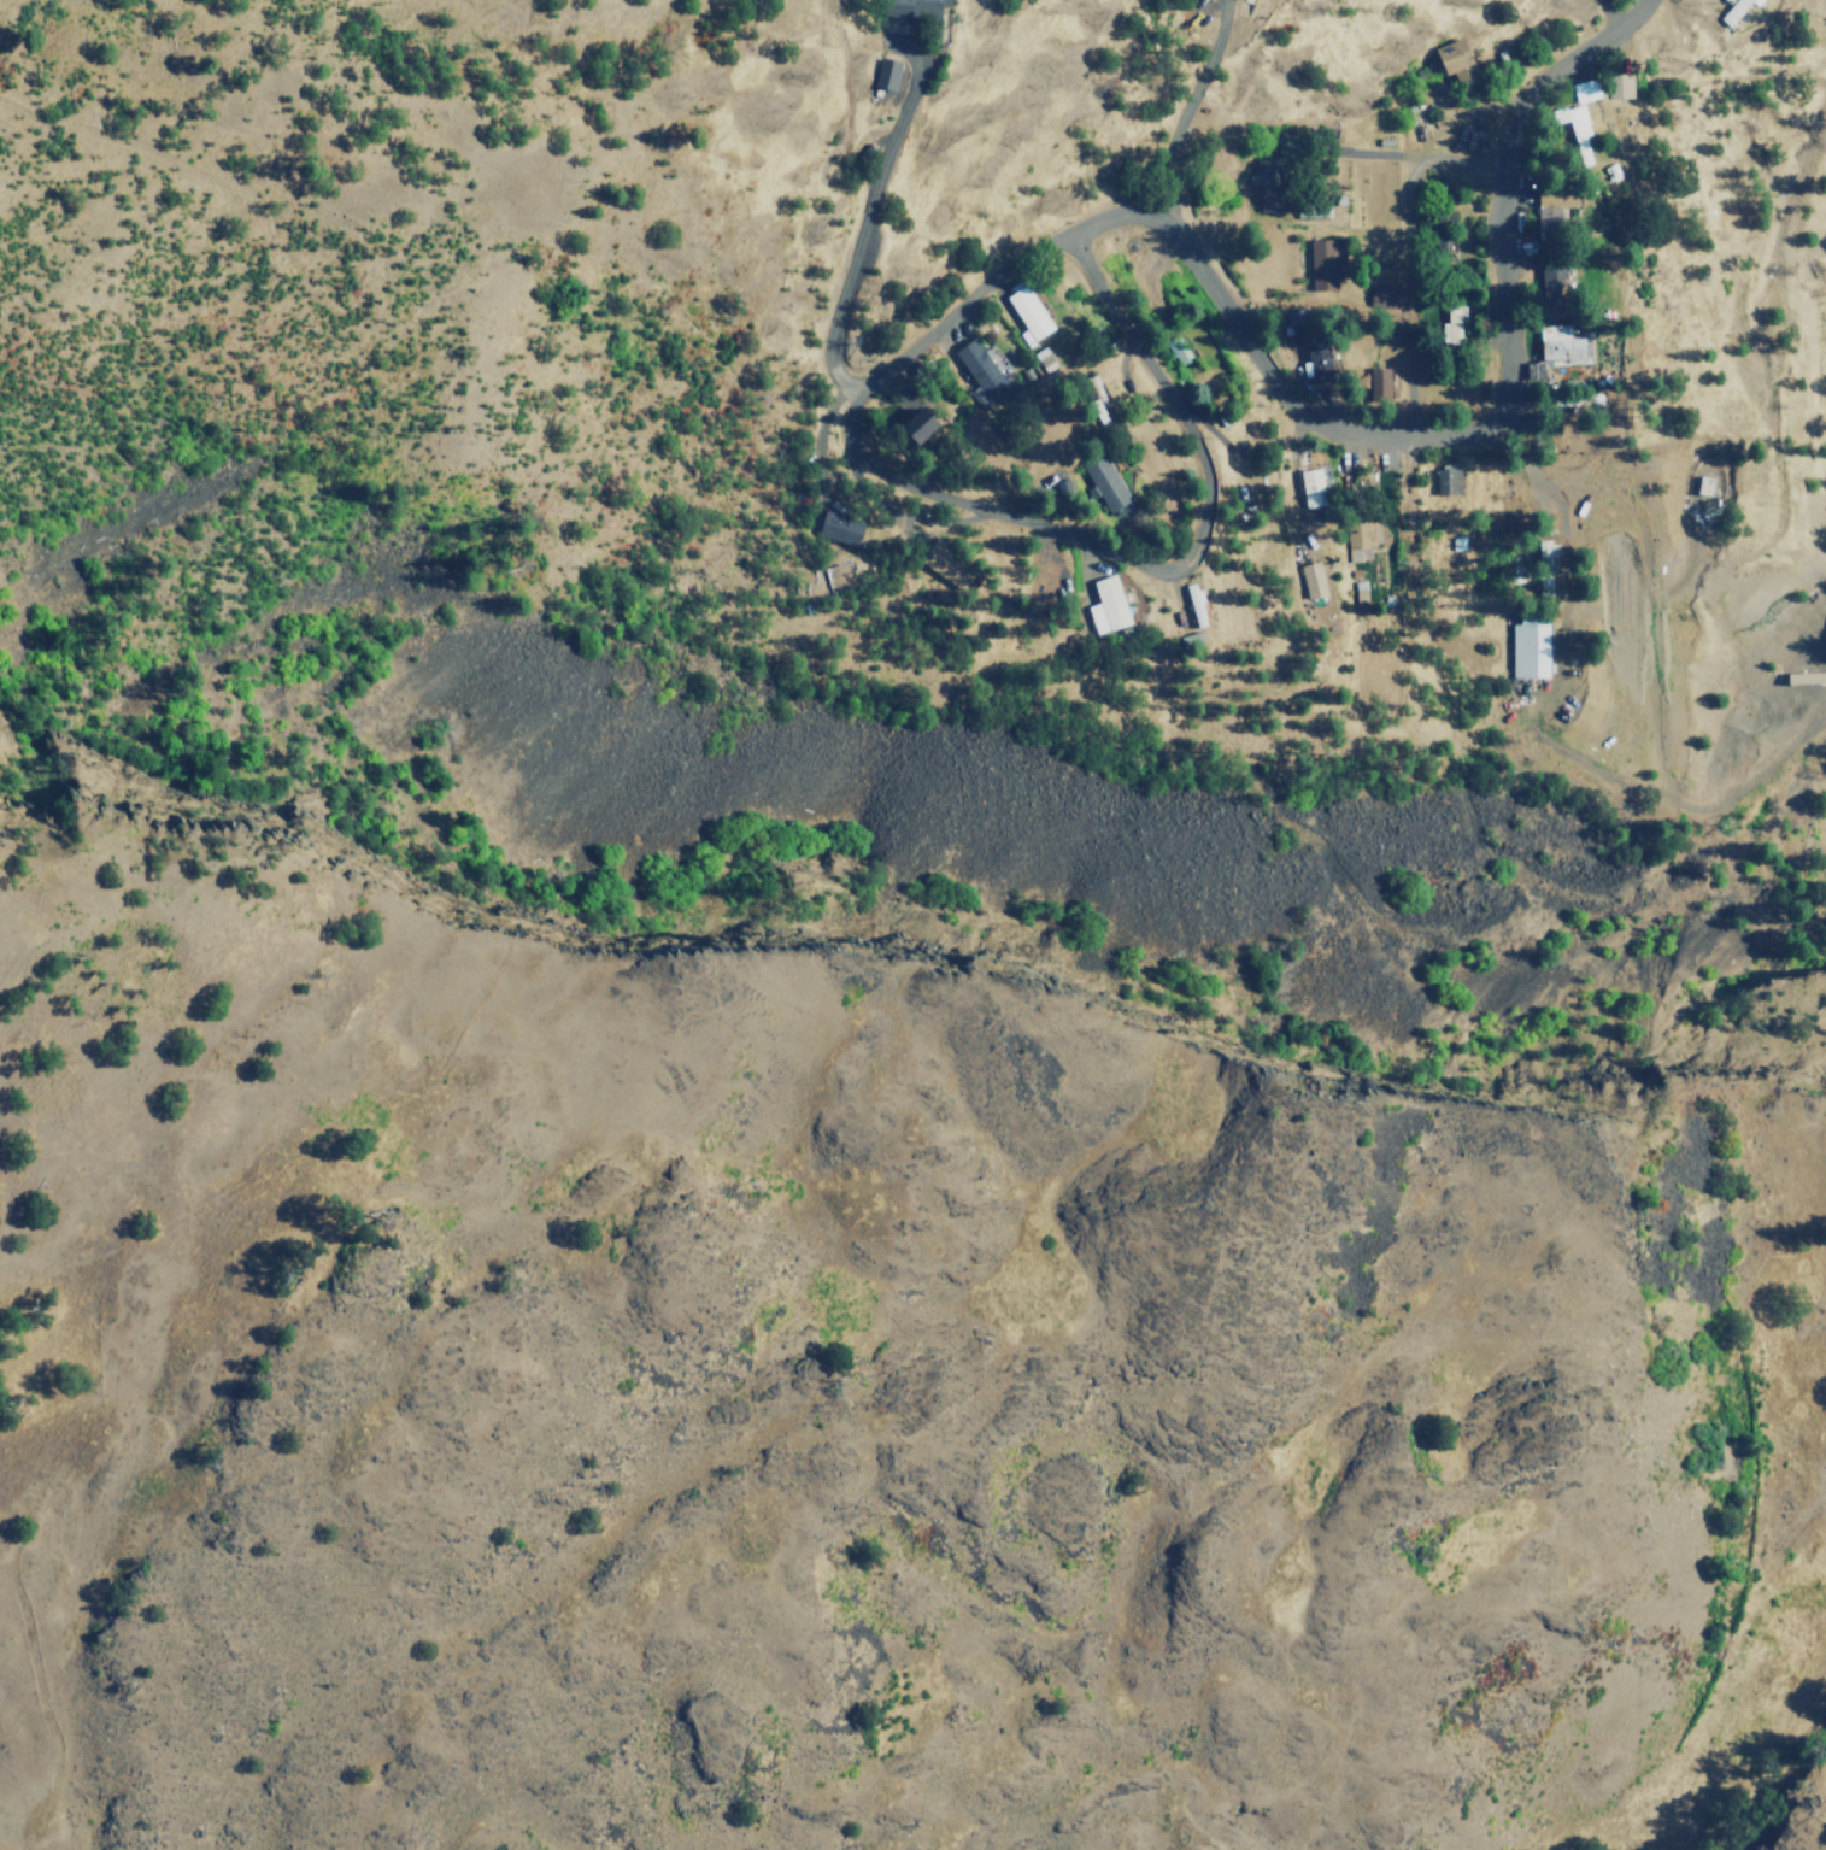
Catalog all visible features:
building: (915, 7)
building: (1734, 11)
building: (1454, 60)
building: (885, 74)
building: (1619, 86)
building: (1584, 90)
road: (1181, 116)
building: (1578, 131)
building: (1287, 148)
building: (1270, 187)
building: (1551, 210)
road: (865, 225)
road: (1408, 258)
building: (1321, 266)
building: (1551, 289)
building: (1382, 296)
building: (1027, 315)
building: (1451, 325)
building: (1297, 328)
building: (1556, 347)
building: (1176, 350)
building: (1317, 364)
building: (977, 371)
building: (1378, 381)
building: (917, 425)
road: (1480, 434)
road: (851, 441)
building: (1445, 480)
building: (1105, 483)
building: (1703, 486)
building: (1310, 488)
building: (839, 528)
building: (1356, 539)
building: (945, 564)
building: (1544, 565)
building: (1311, 580)
building: (1358, 591)
building: (1193, 604)
building: (1106, 606)

